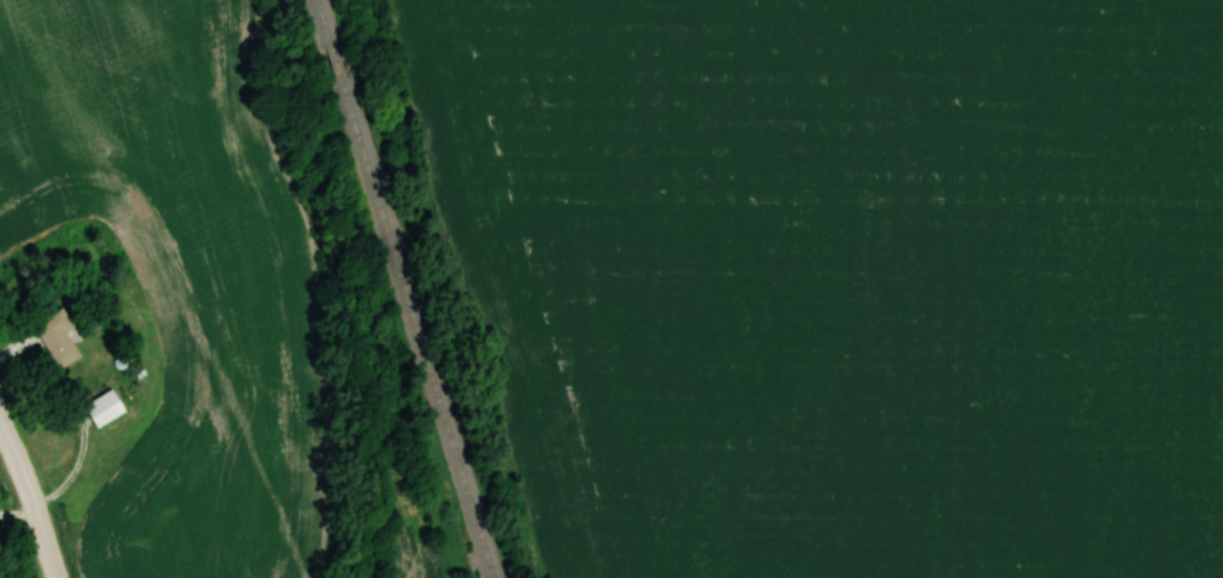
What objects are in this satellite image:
railway: (402, 289)
building: (55, 337)
building: (102, 408)
road: (75, 472)
road: (33, 493)
road: (18, 514)

